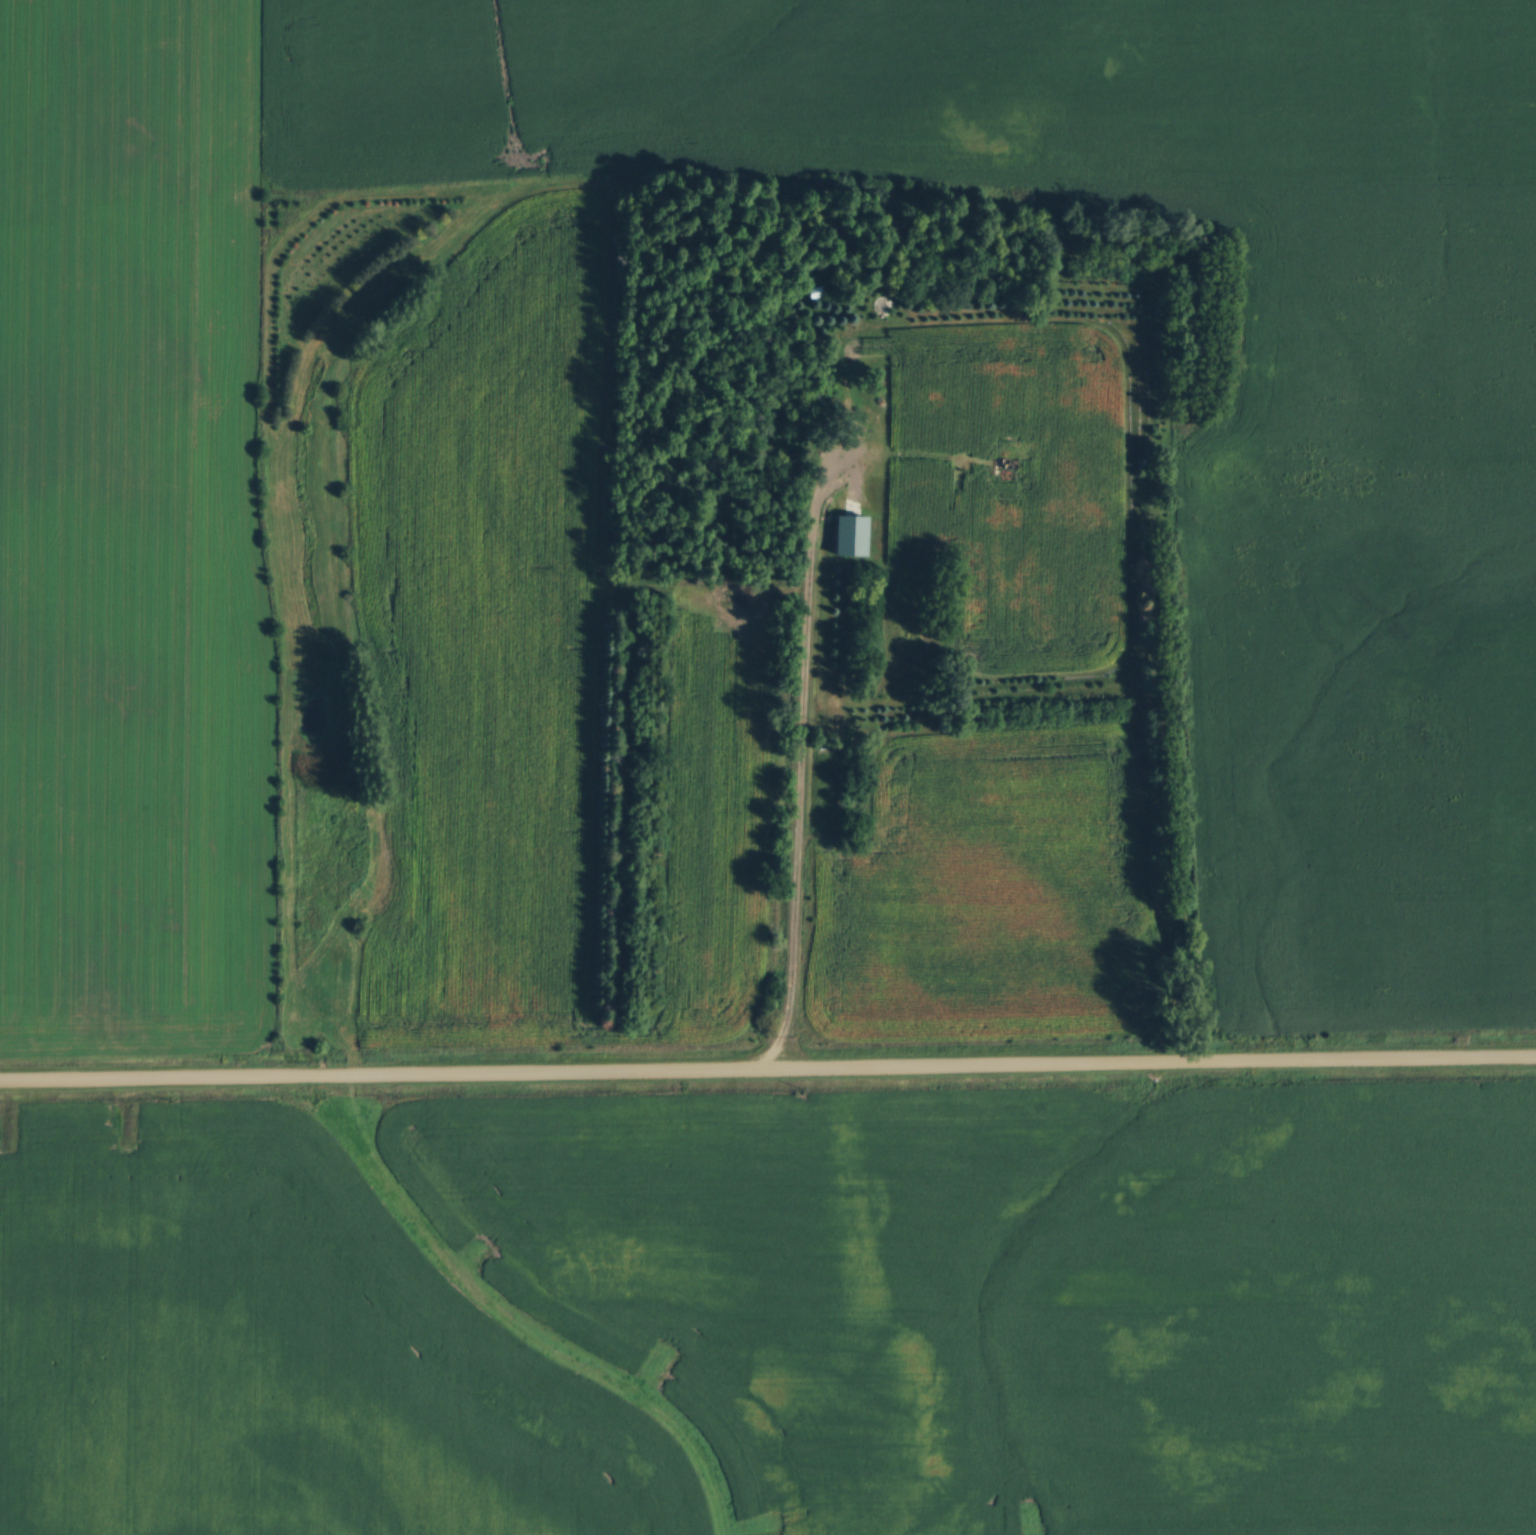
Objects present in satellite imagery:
building: (818, 294)
building: (782, 448)
road: (768, 1068)

